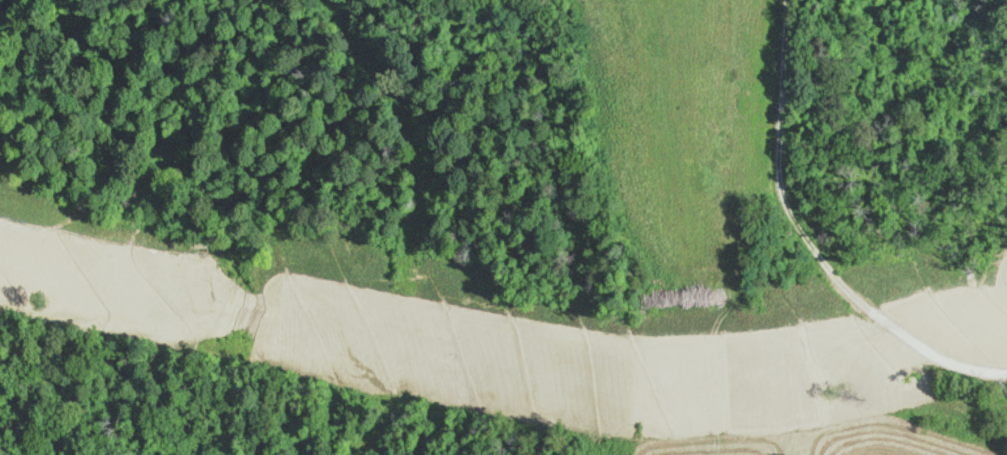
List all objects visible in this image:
road: (813, 235)

